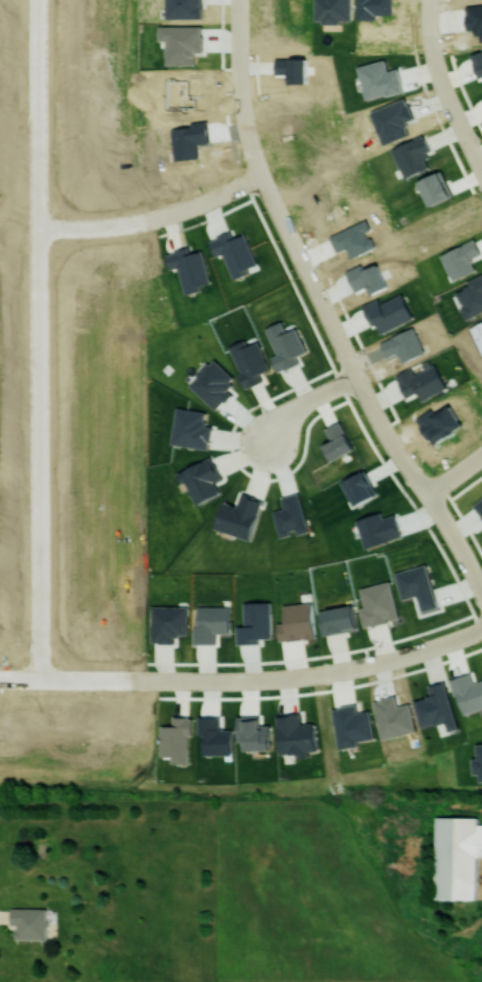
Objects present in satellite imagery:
building: (379, 79)
road: (442, 88)
road: (37, 105)
building: (413, 156)
building: (436, 188)
road: (153, 217)
road: (38, 219)
building: (472, 297)
road: (324, 309)
building: (389, 312)
building: (286, 346)
building: (250, 361)
building: (422, 382)
building: (213, 383)
road: (307, 402)
building: (192, 428)
building: (338, 441)
road: (38, 455)
road: (455, 473)
building: (202, 480)
building: (479, 506)
building: (241, 516)
building: (378, 604)
building: (338, 620)
building: (169, 623)
building: (212, 623)
building: (298, 623)
road: (405, 655)
road: (318, 674)
road: (156, 680)
building: (437, 707)
building: (296, 735)
building: (215, 736)
building: (177, 739)
park: (281, 781)
building: (457, 857)
building: (30, 923)

